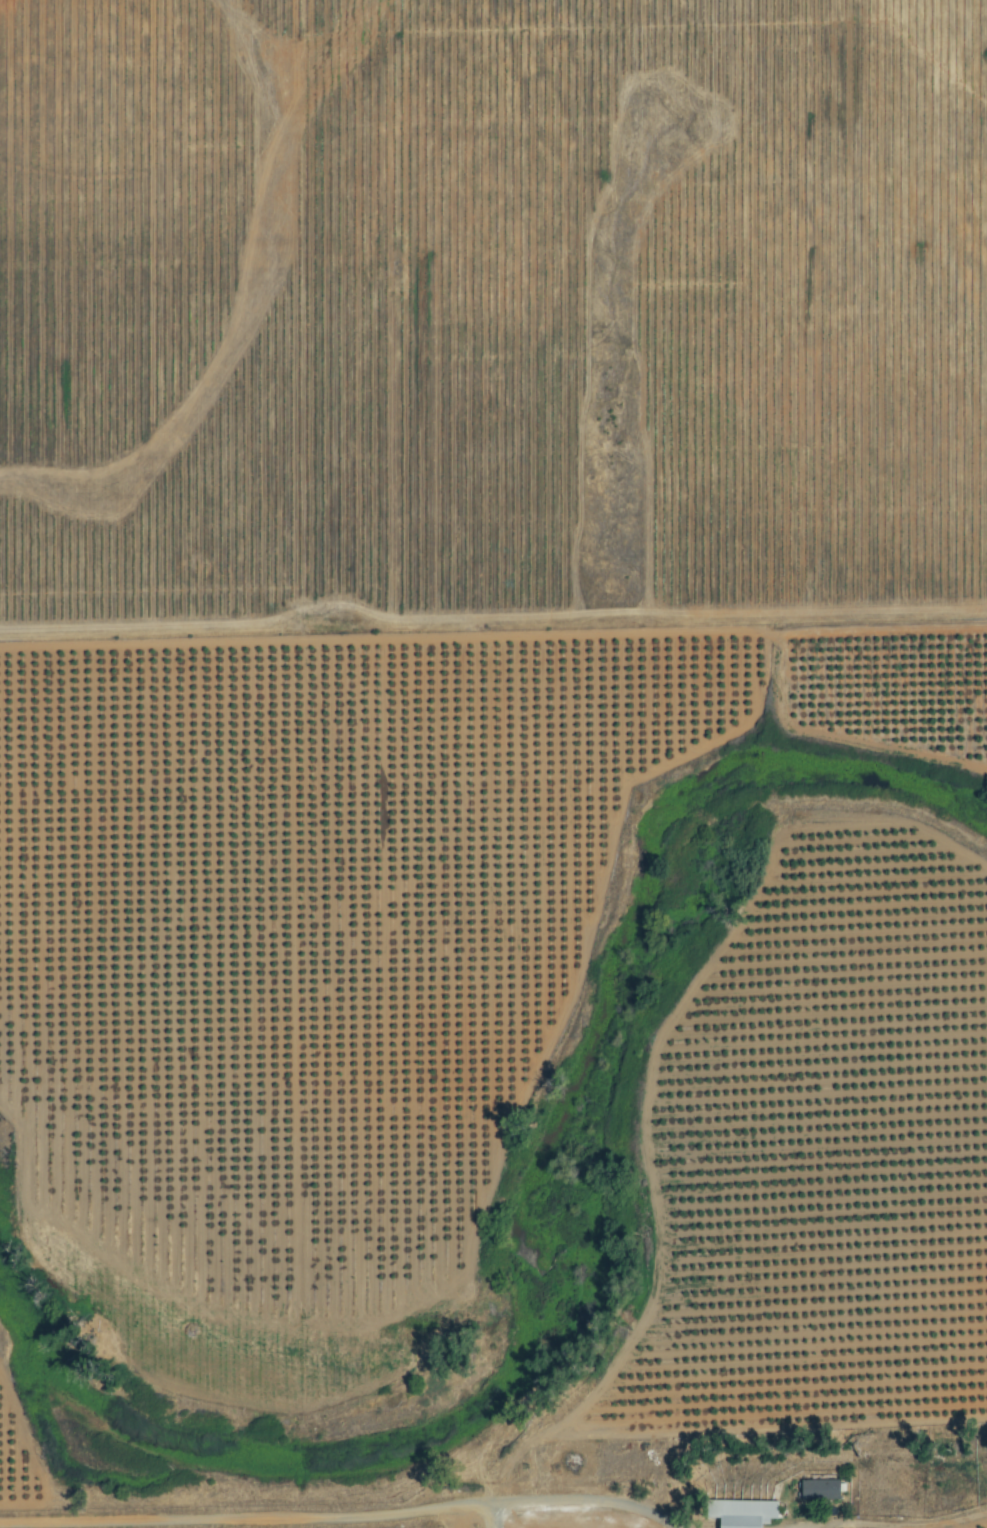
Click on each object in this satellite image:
building: (818, 1489)
road: (346, 1512)
building: (738, 1513)
road: (488, 1515)

